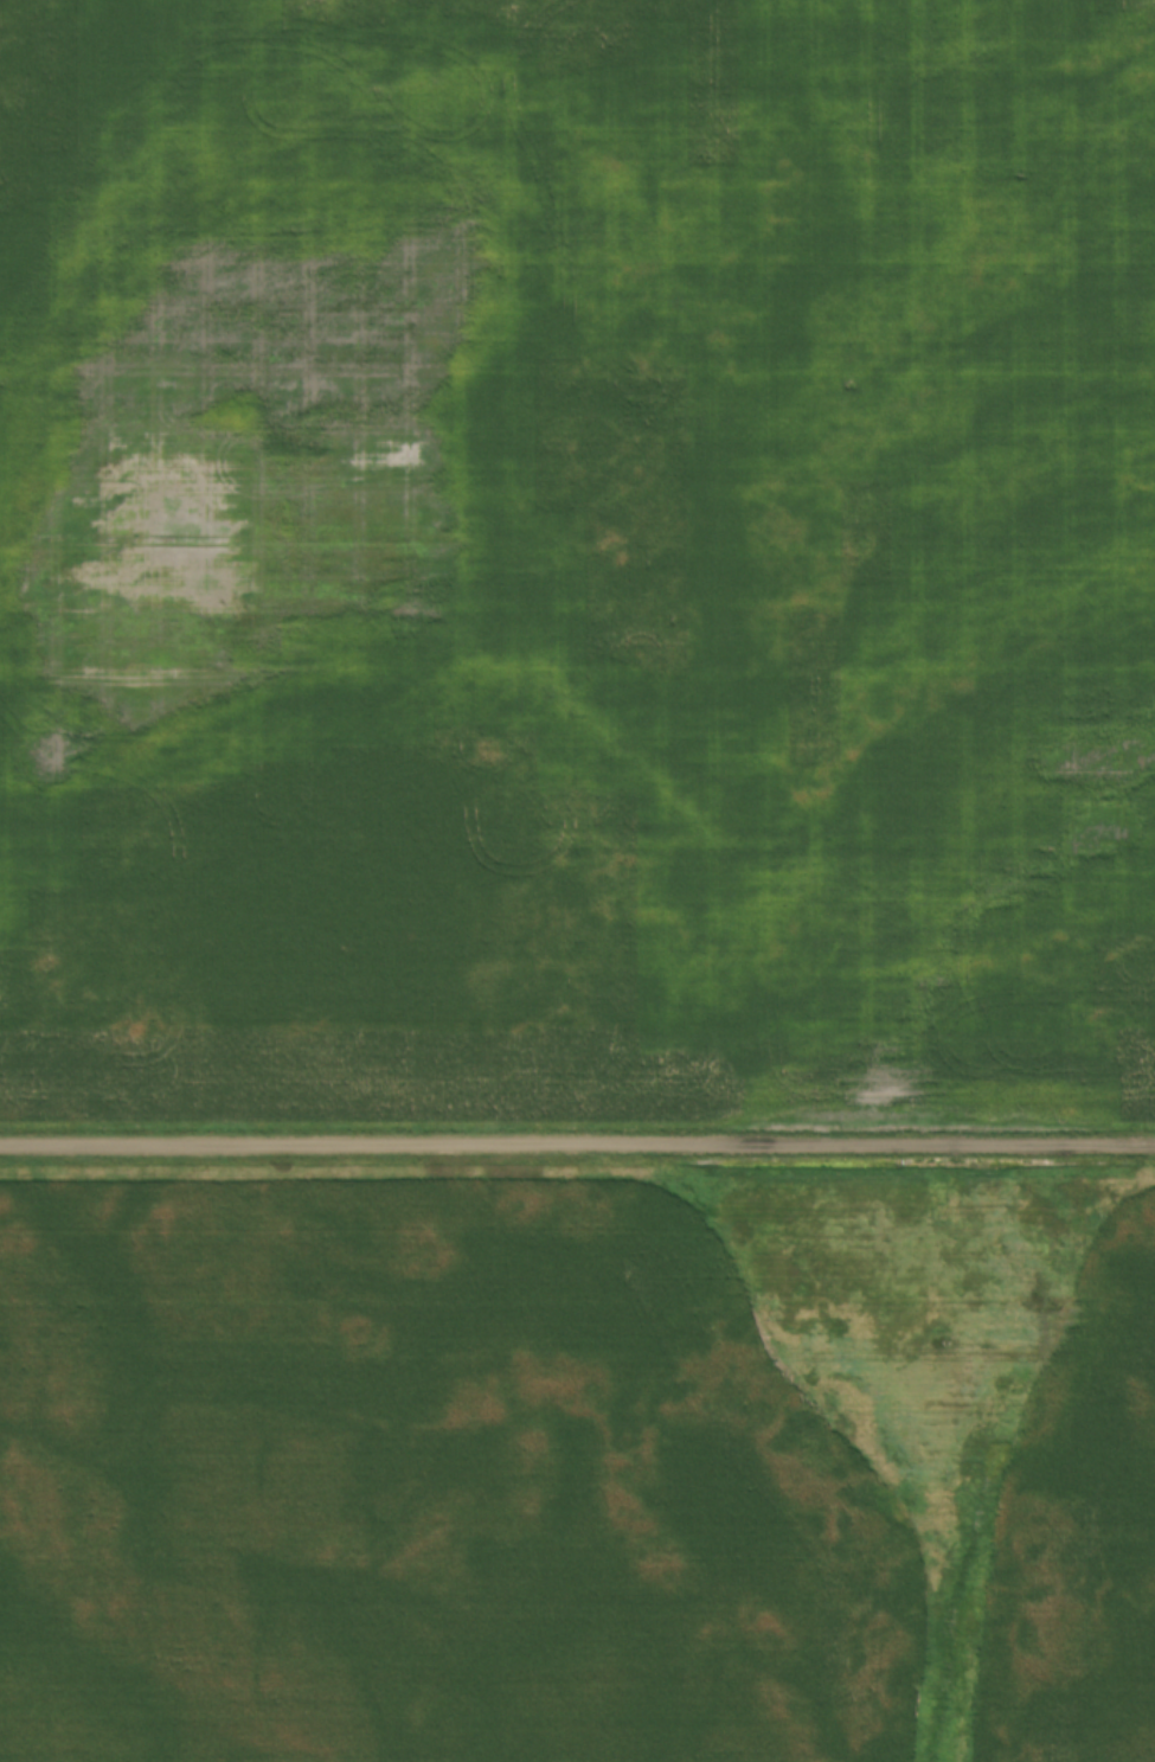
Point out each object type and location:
road: (577, 1143)

